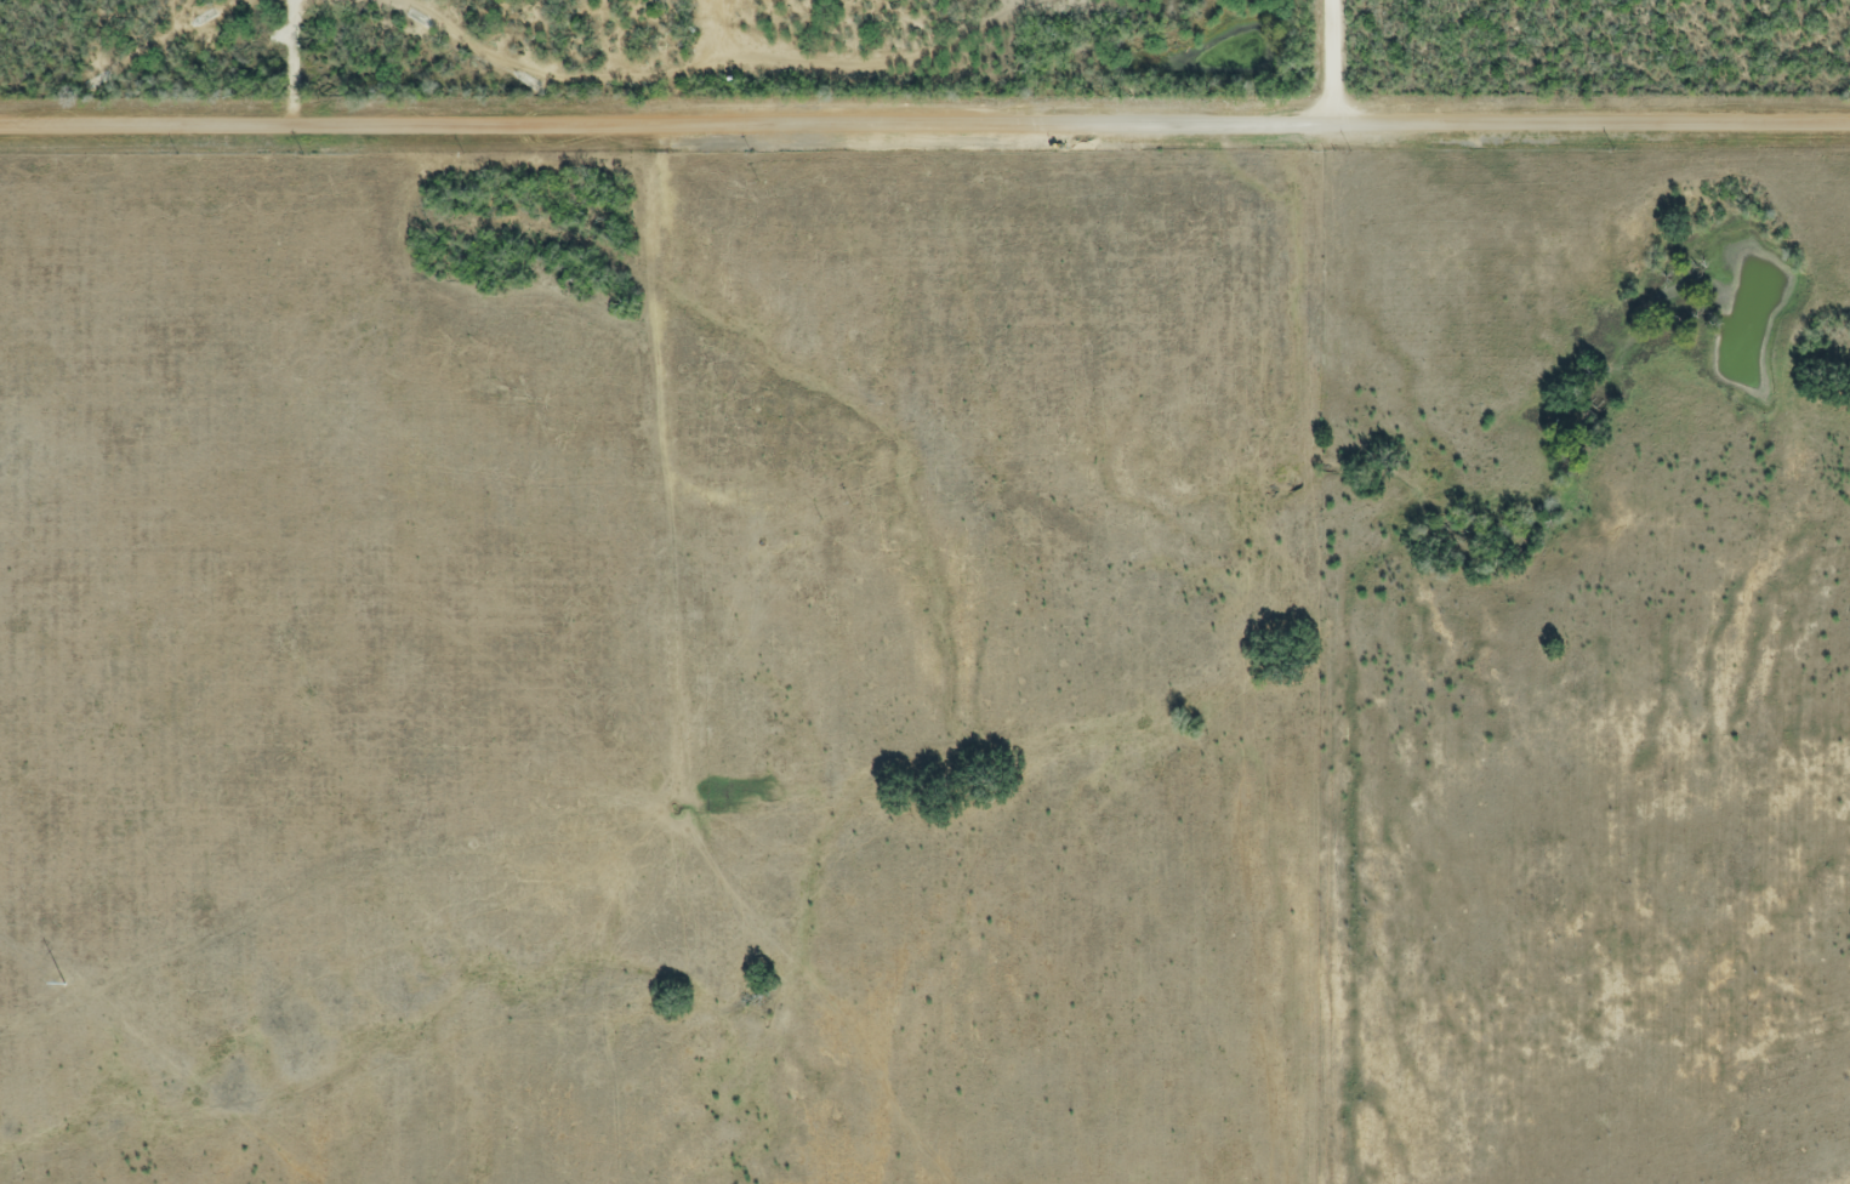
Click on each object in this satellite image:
road: (1331, 63)
road: (924, 124)
power tower: (56, 979)

